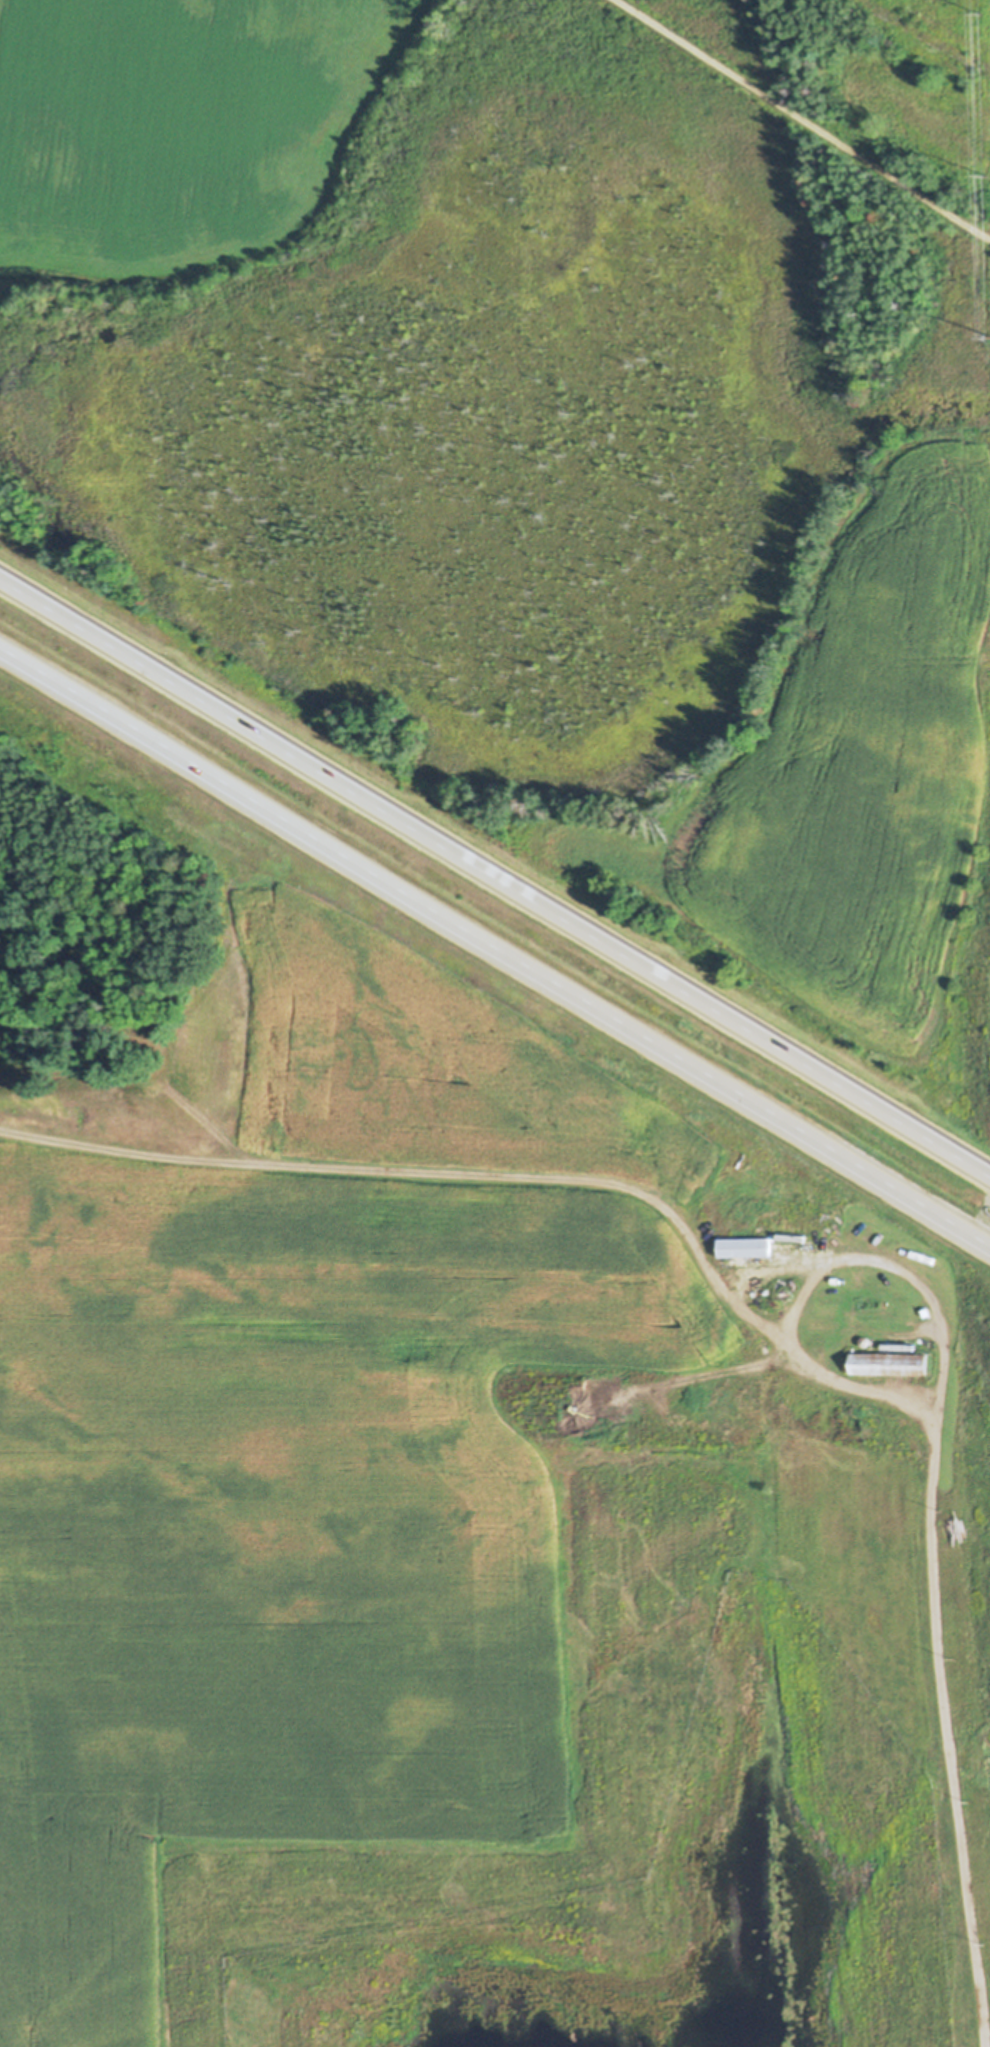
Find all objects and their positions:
road: (925, 36)
road: (801, 119)
road: (495, 874)
road: (495, 948)
building: (741, 1247)
road: (757, 1322)
building: (888, 1364)

